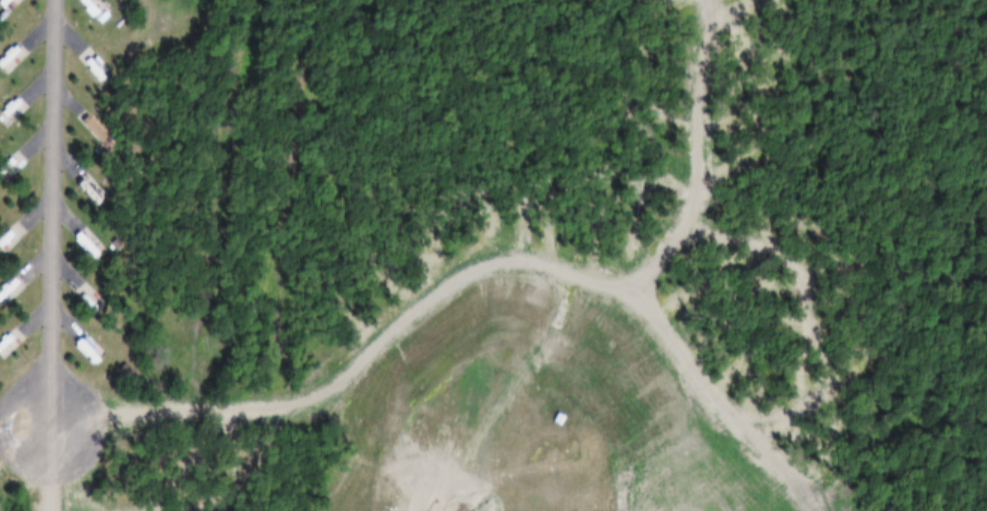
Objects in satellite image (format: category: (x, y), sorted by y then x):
road: (57, 215)
building: (202, 388)
road: (52, 470)

